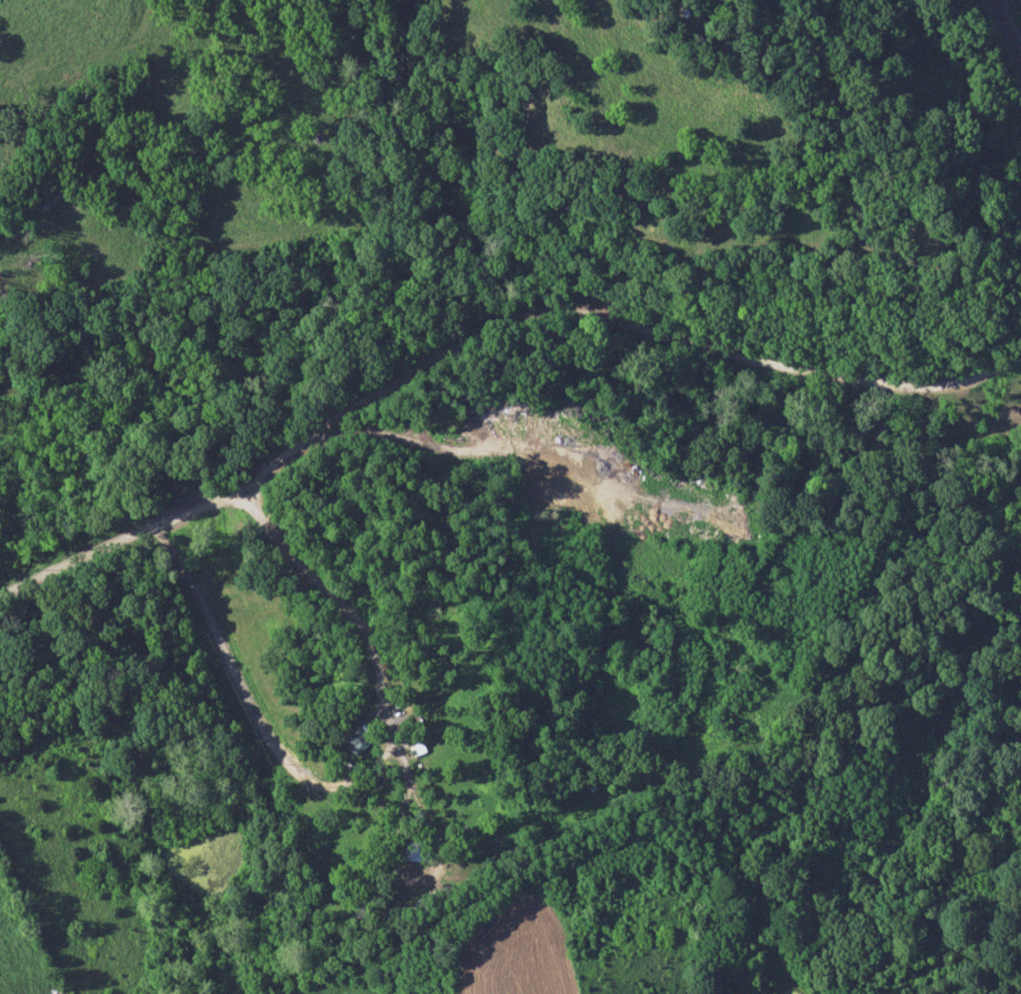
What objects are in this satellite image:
railway: (1007, 29)
road: (485, 330)
road: (362, 765)

